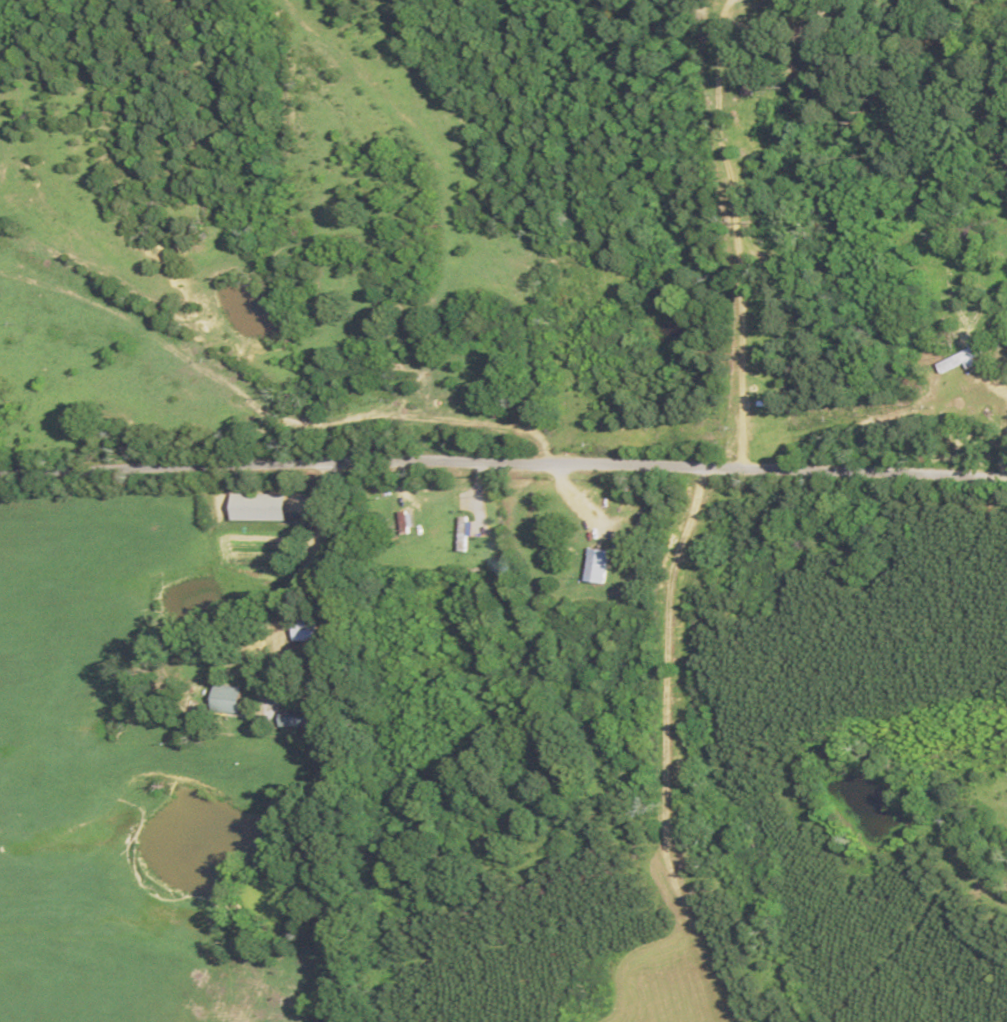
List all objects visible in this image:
building: (960, 358)
road: (503, 461)
building: (255, 506)
building: (461, 533)
building: (594, 564)
building: (225, 697)
building: (292, 717)

